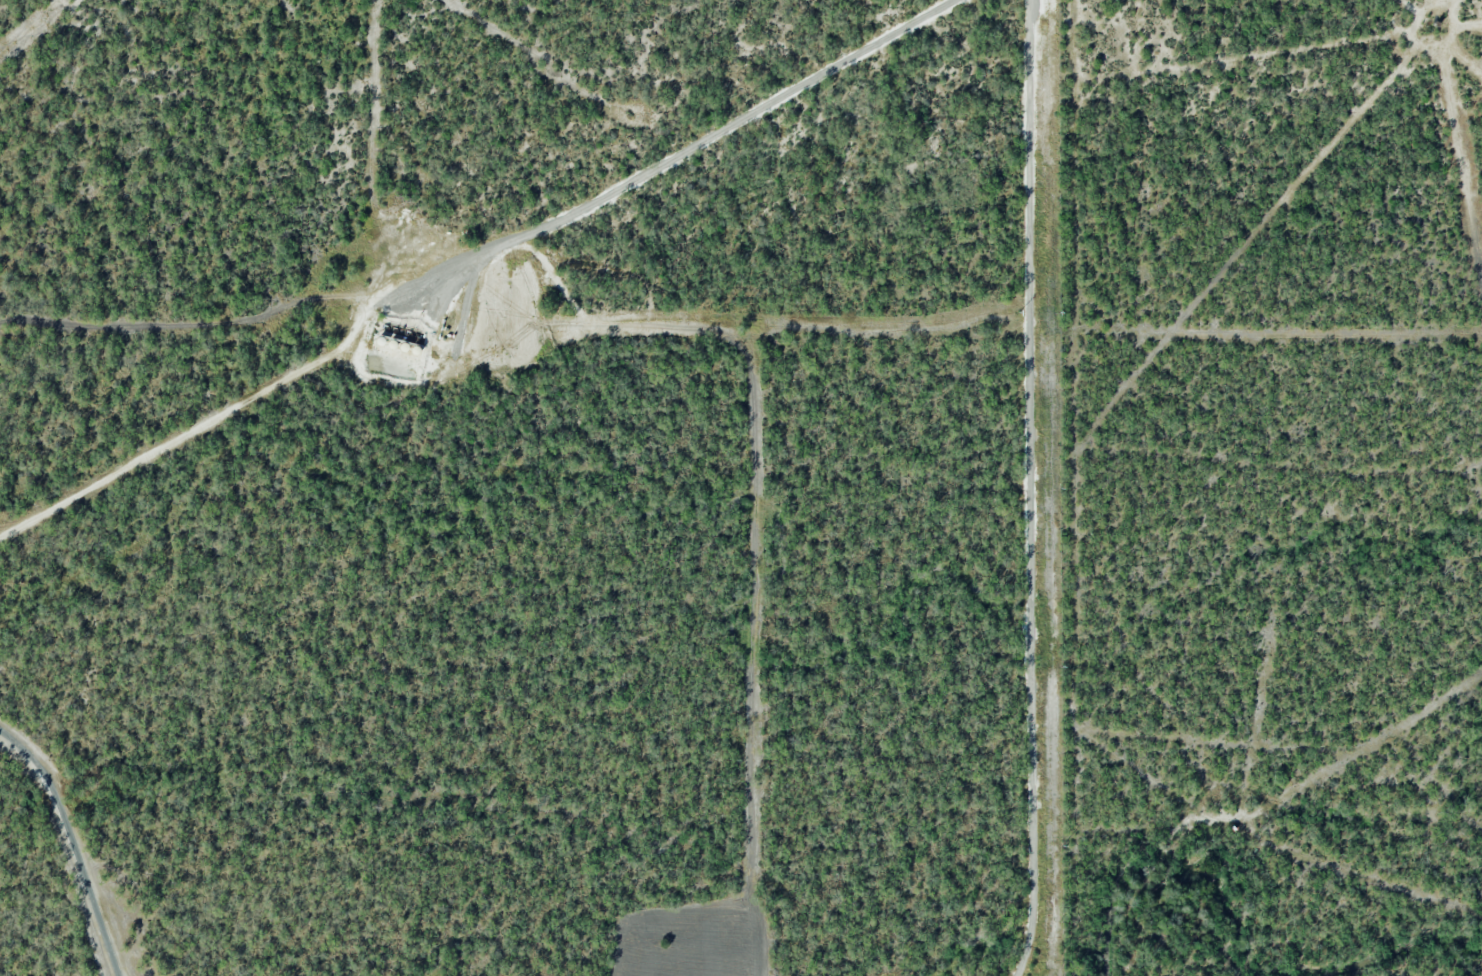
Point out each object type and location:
road: (652, 166)
road: (174, 449)
road: (1031, 489)
road: (72, 843)

